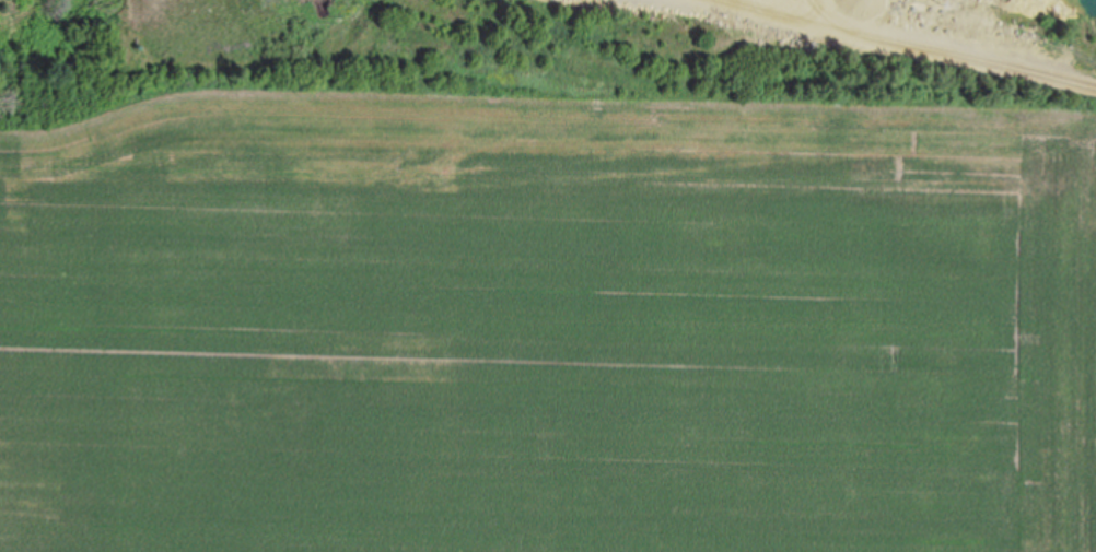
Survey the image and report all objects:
quarry: (616, 42)
road: (888, 47)
crop: (545, 317)

